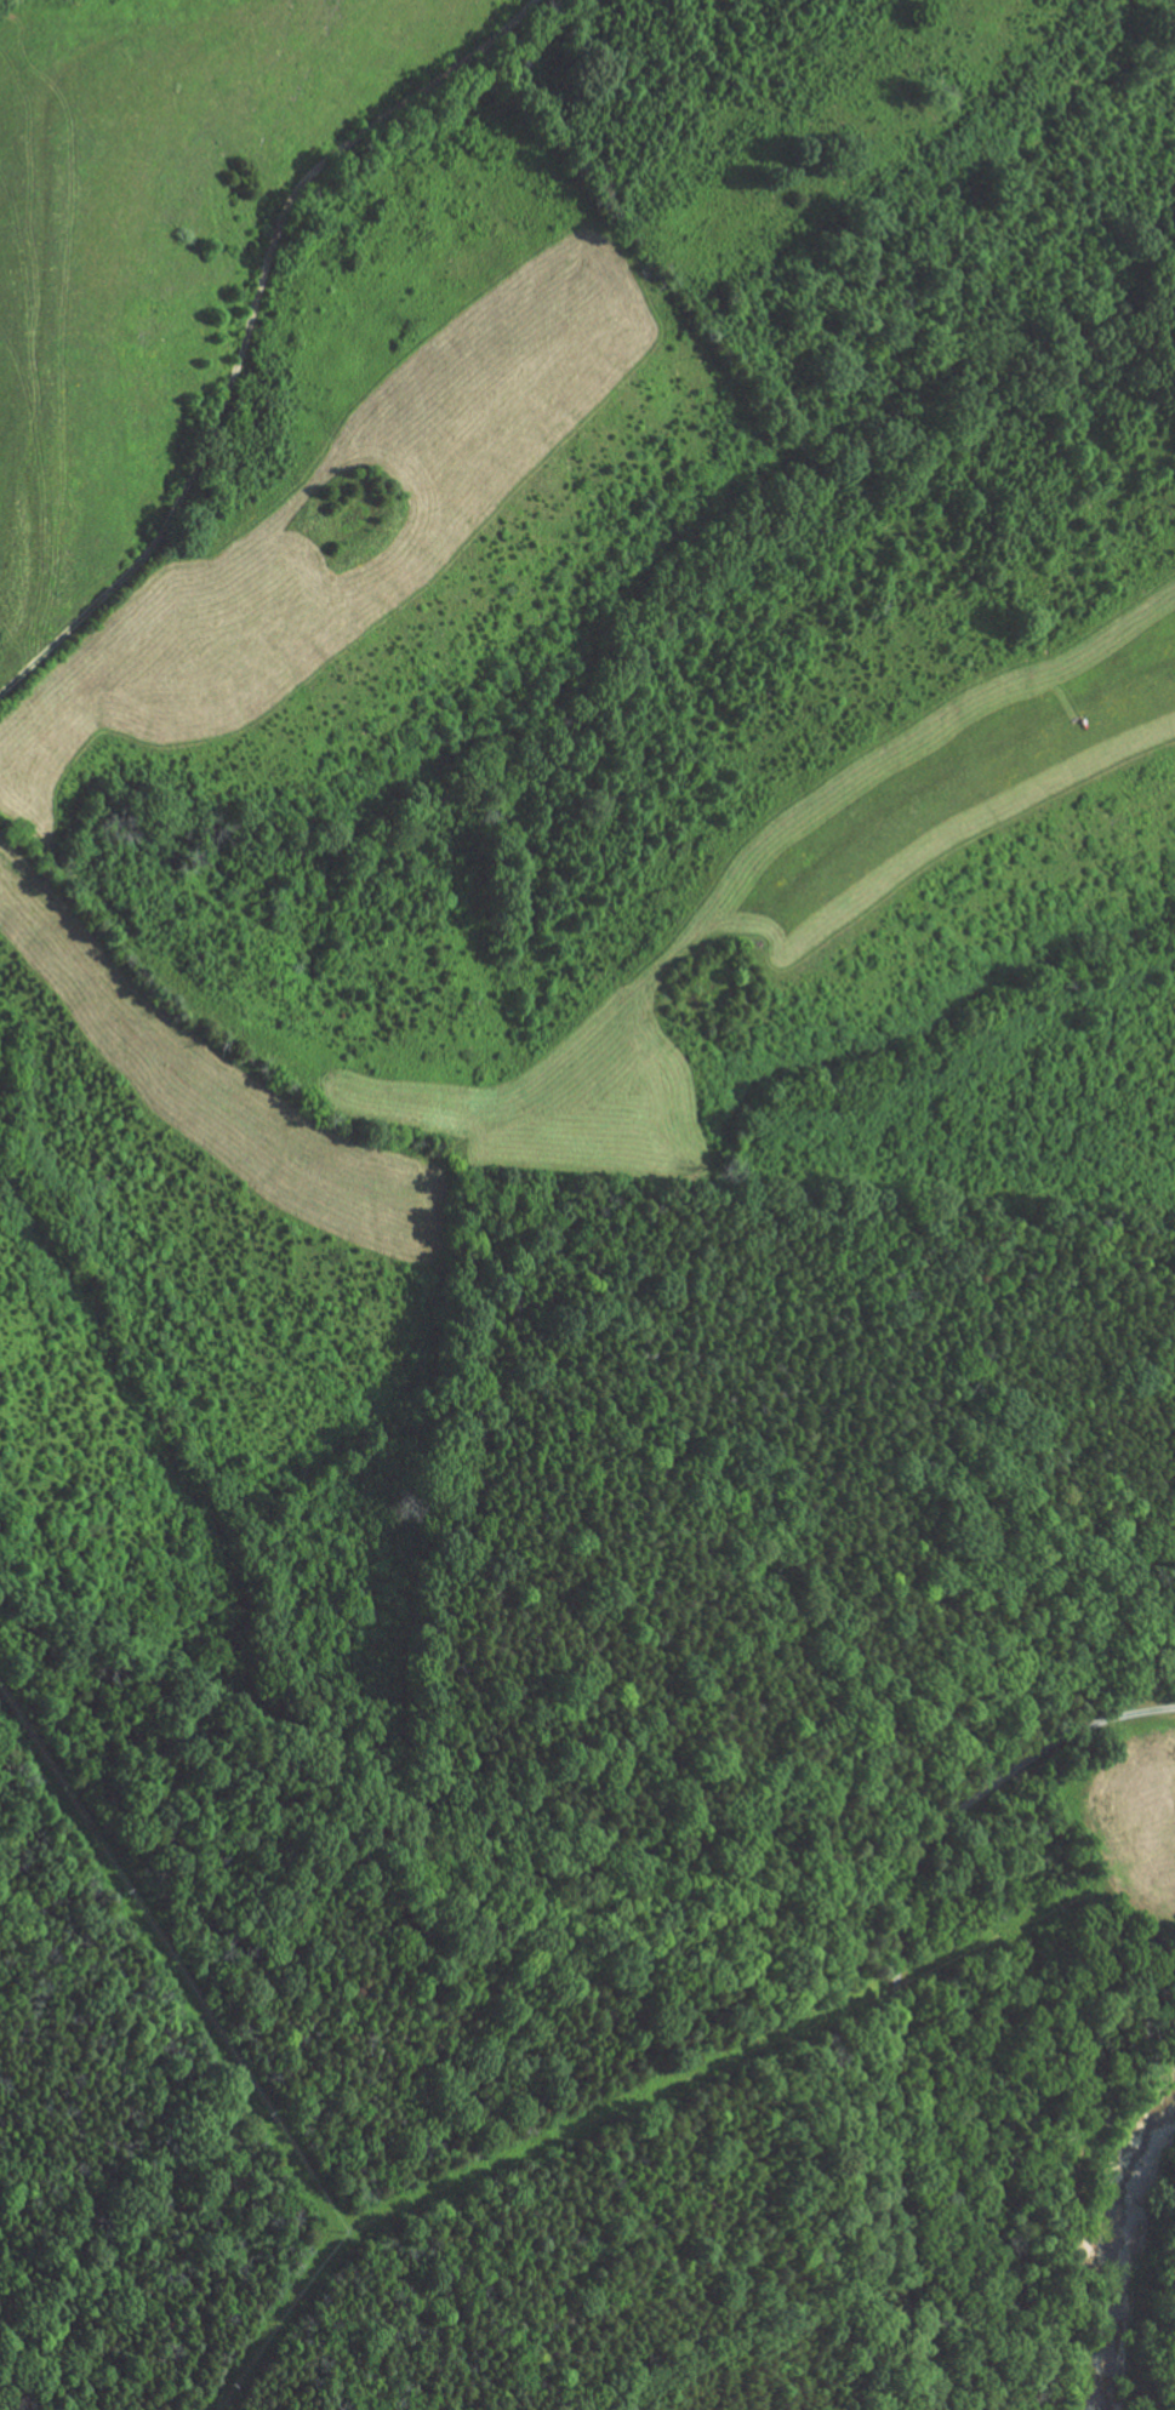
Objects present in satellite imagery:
road: (900, 1982)

